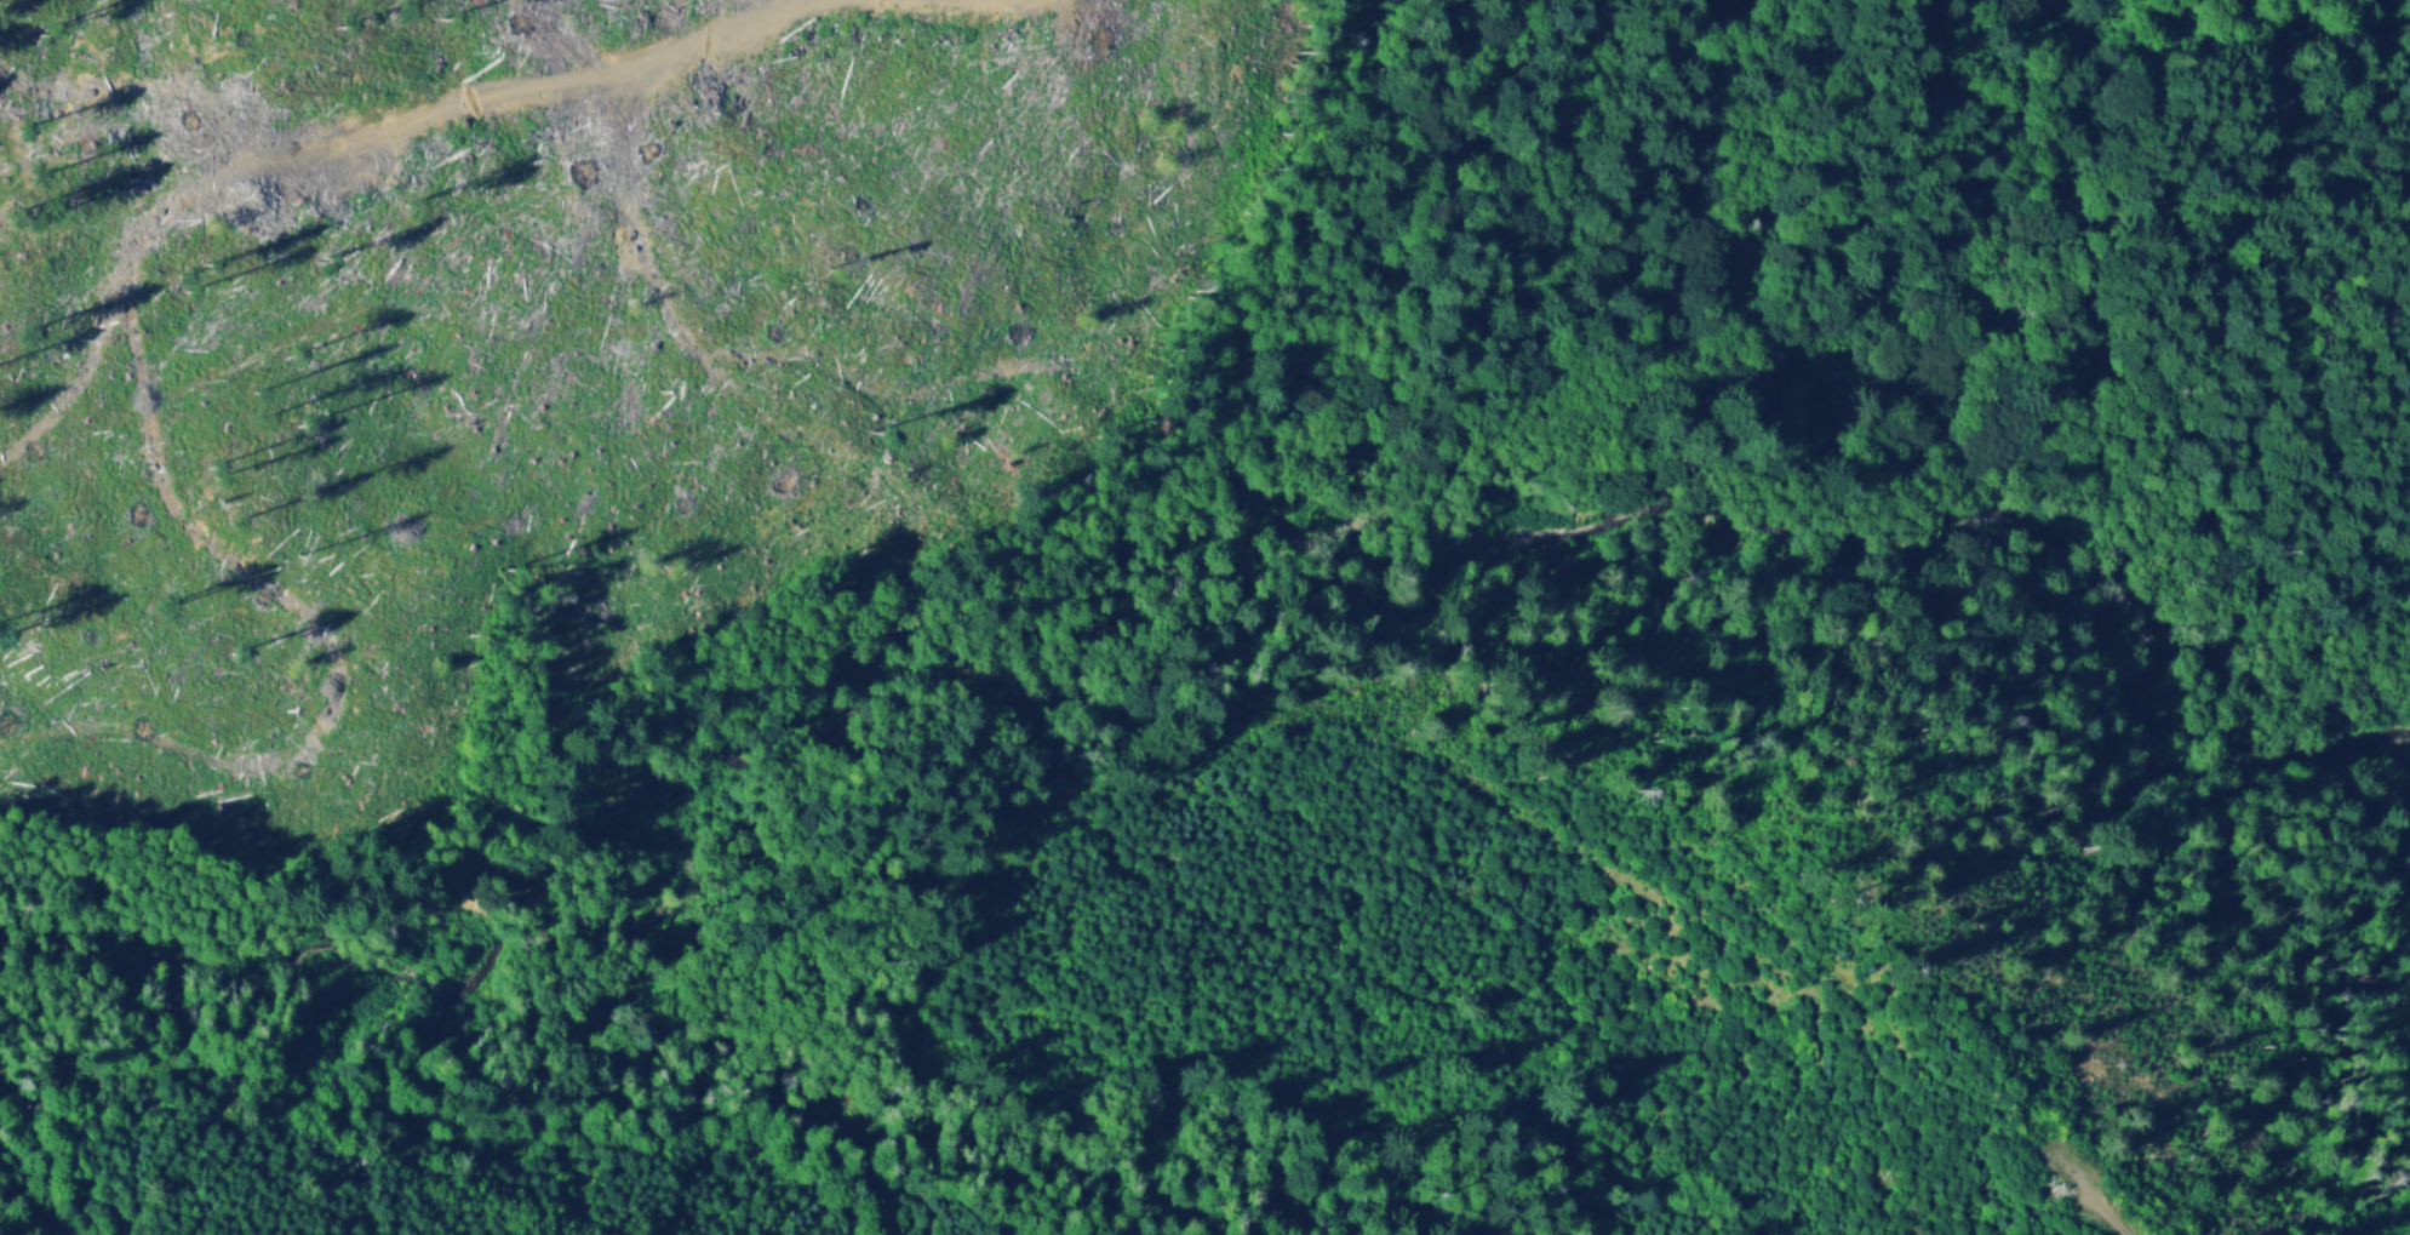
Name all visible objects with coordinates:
road: (2070, 1185)

